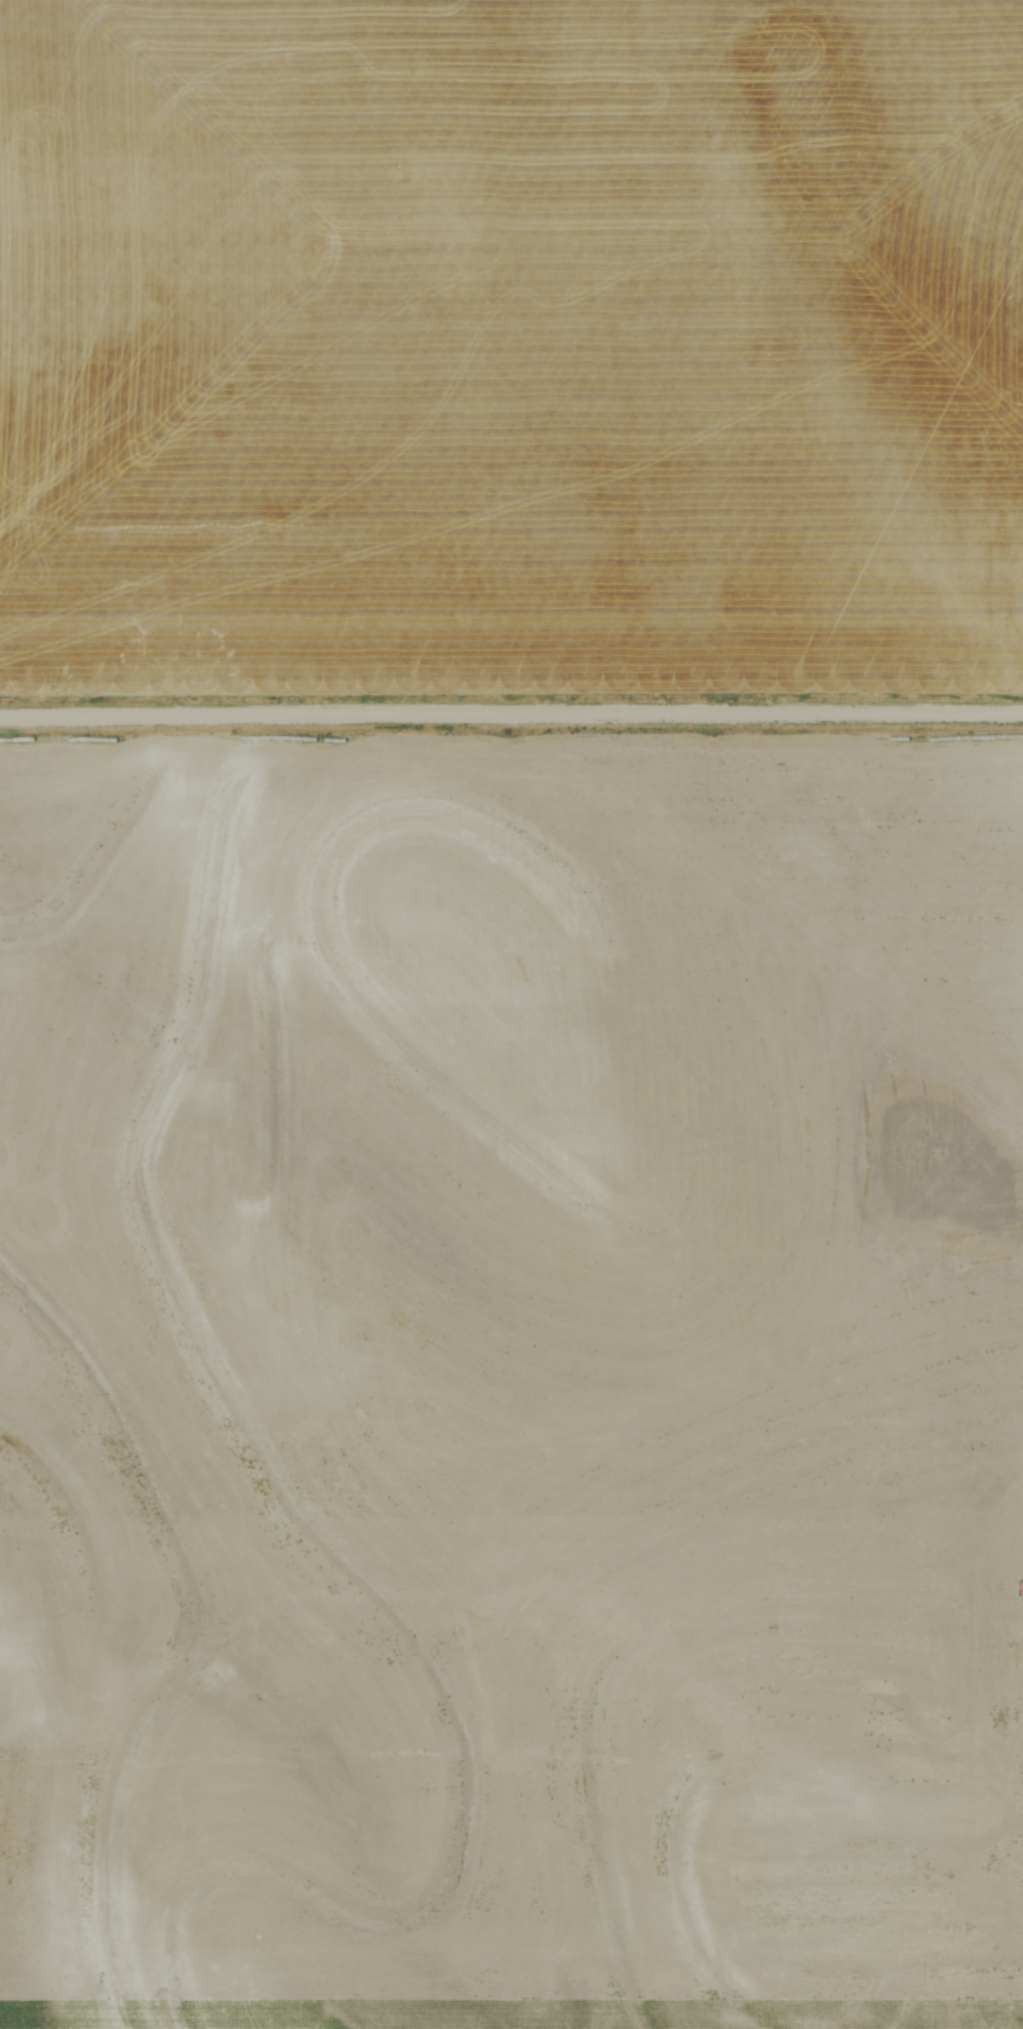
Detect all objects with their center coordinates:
road: (511, 711)

